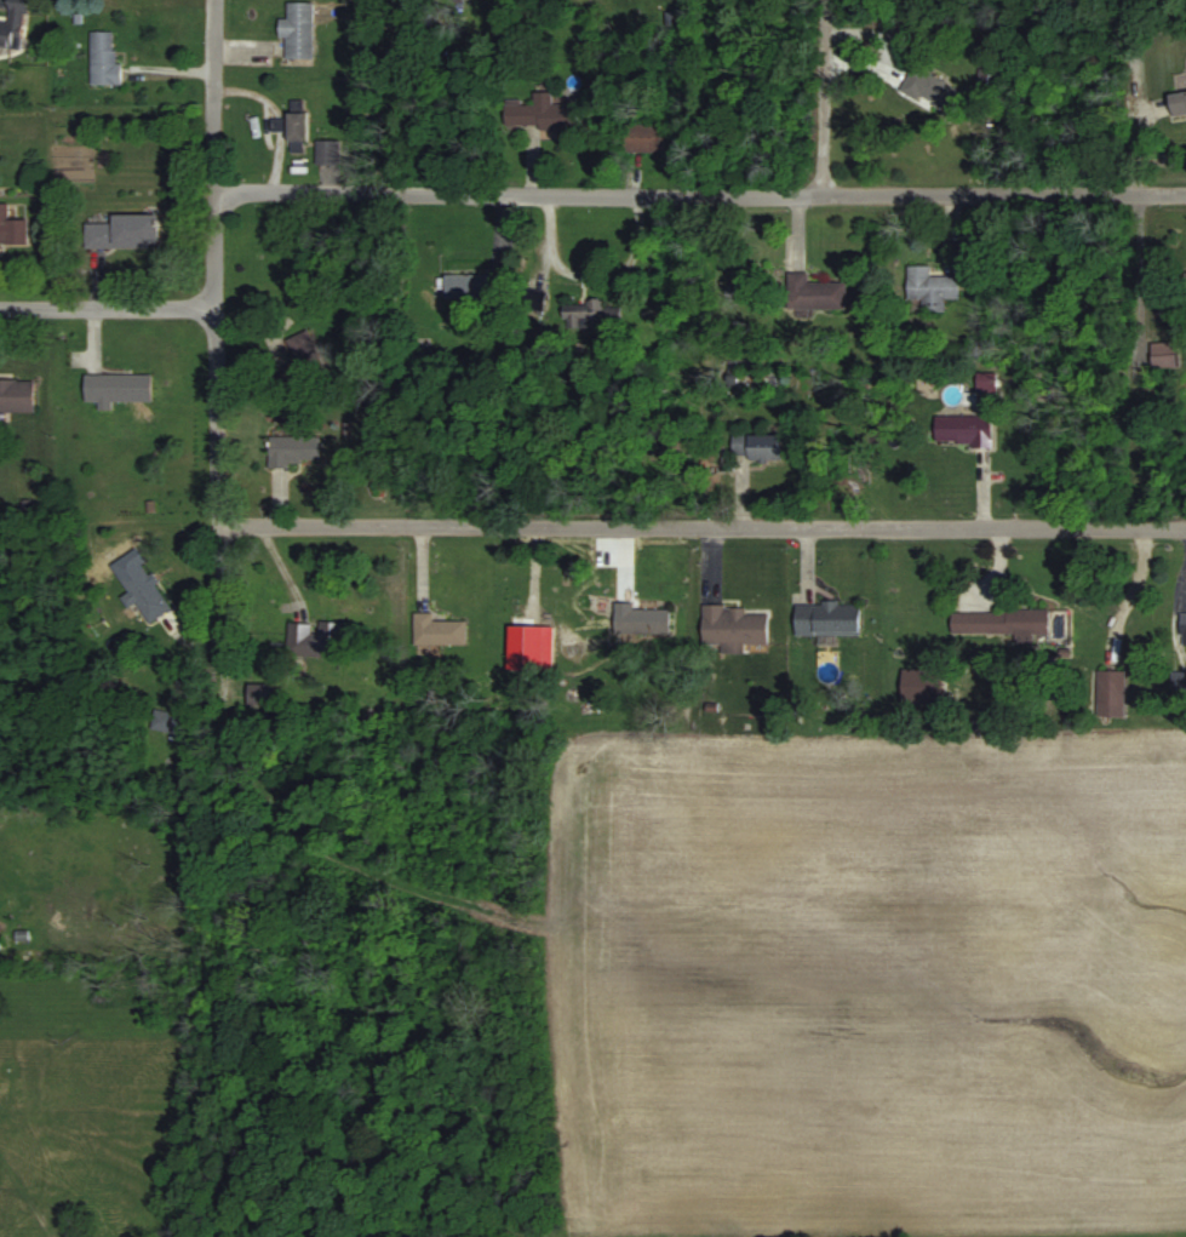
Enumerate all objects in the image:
building: (15, 25)
building: (299, 29)
building: (104, 58)
building: (933, 88)
road: (826, 98)
building: (1179, 102)
building: (540, 111)
building: (294, 128)
building: (647, 136)
building: (327, 150)
road: (216, 155)
road: (700, 196)
building: (12, 228)
building: (125, 231)
building: (1185, 276)
building: (474, 285)
building: (930, 288)
building: (815, 293)
road: (108, 310)
building: (590, 315)
building: (303, 361)
road: (1158, 363)
building: (118, 388)
building: (17, 395)
road: (219, 419)
building: (963, 430)
building: (756, 446)
building: (293, 449)
road: (703, 529)
building: (143, 590)
building: (829, 618)
building: (642, 619)
building: (999, 622)
building: (733, 625)
building: (1182, 628)
building: (437, 630)
building: (314, 638)
road: (217, 640)
building: (1111, 686)
building: (166, 721)

